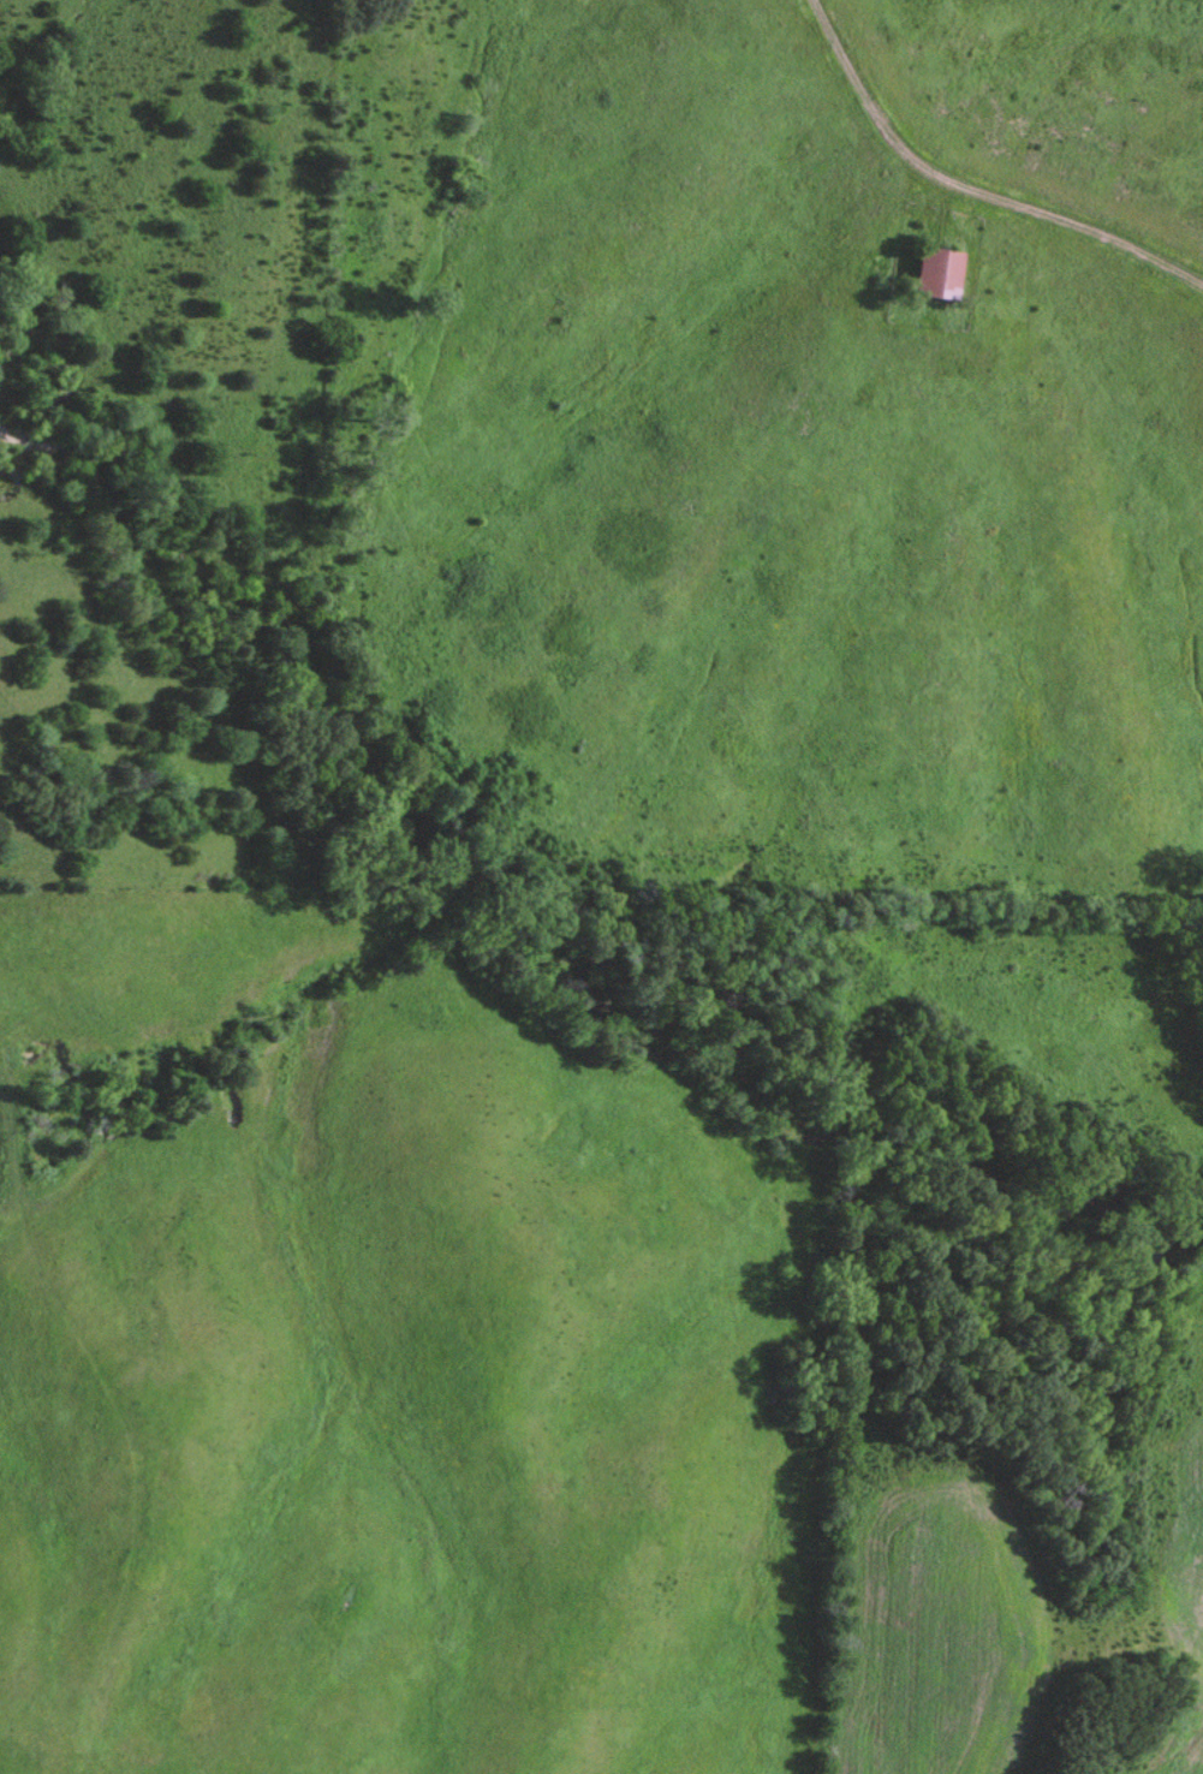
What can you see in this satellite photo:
road: (967, 185)
building: (936, 272)

